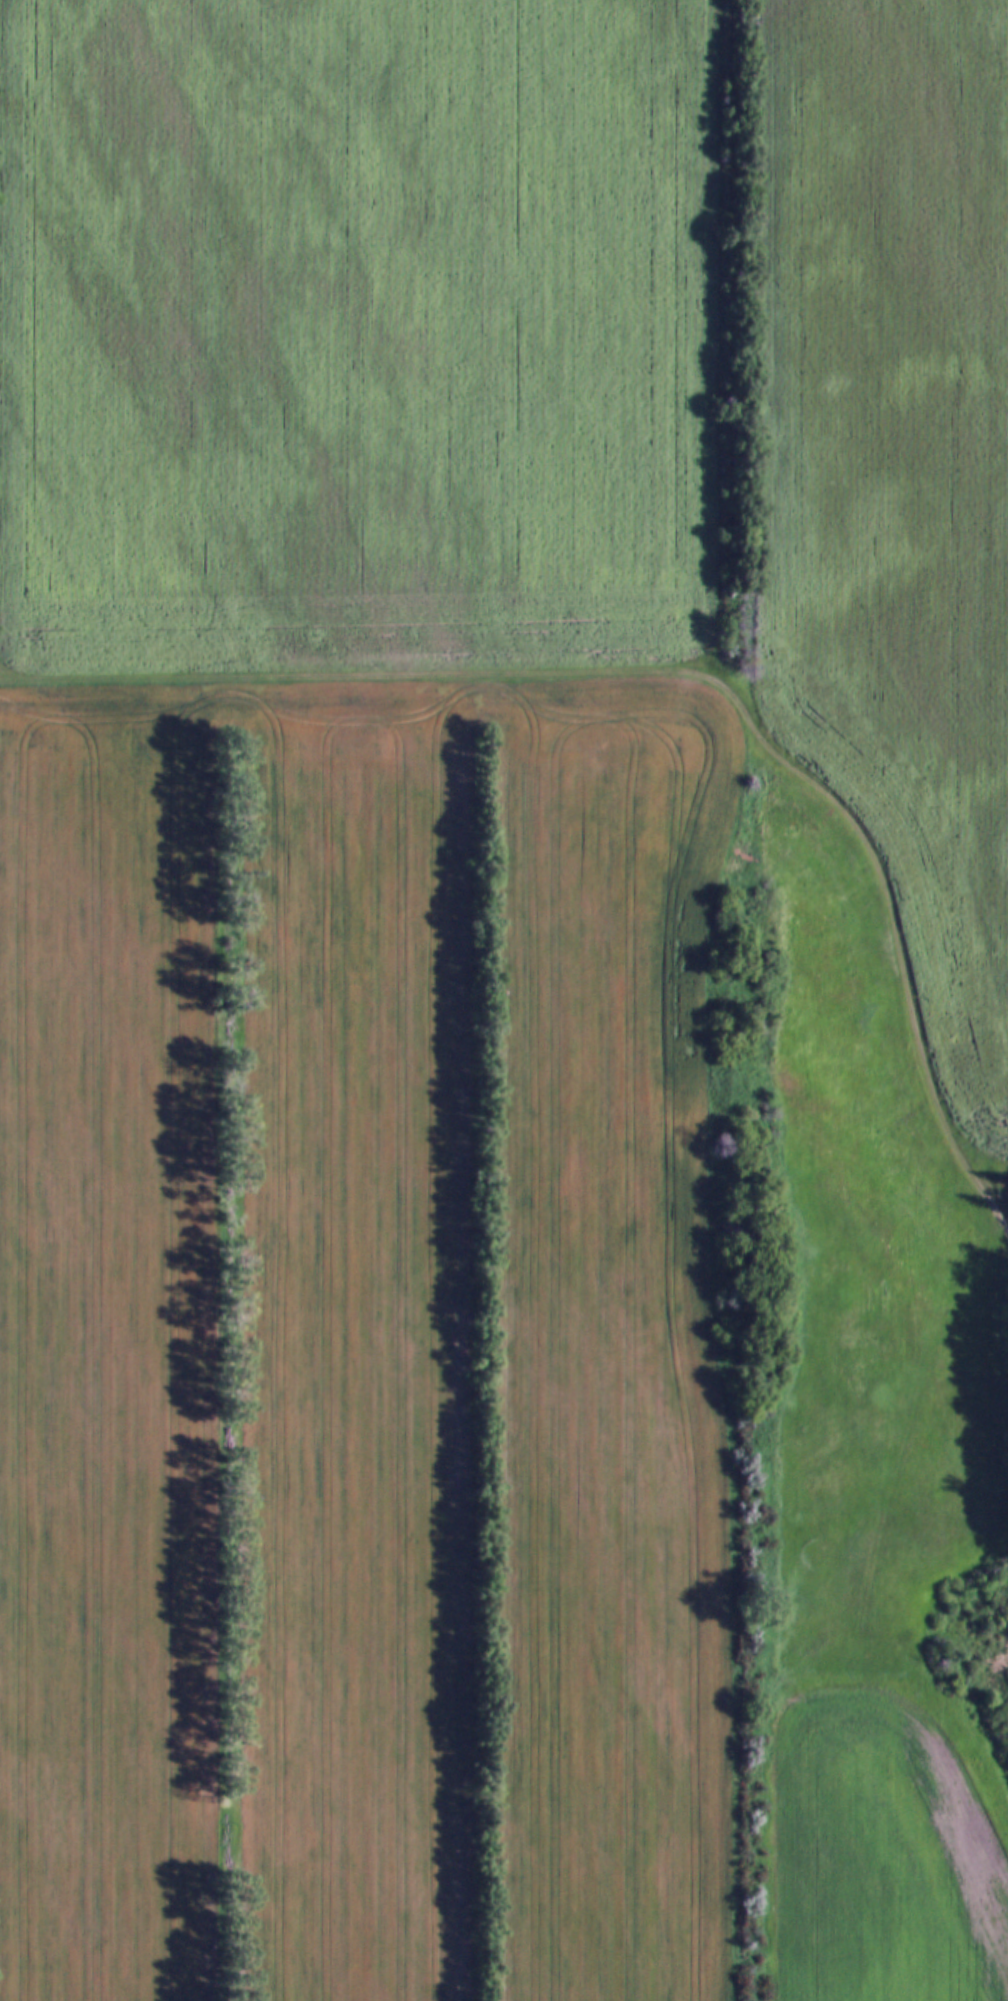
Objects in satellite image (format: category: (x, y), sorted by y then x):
road: (893, 934)

